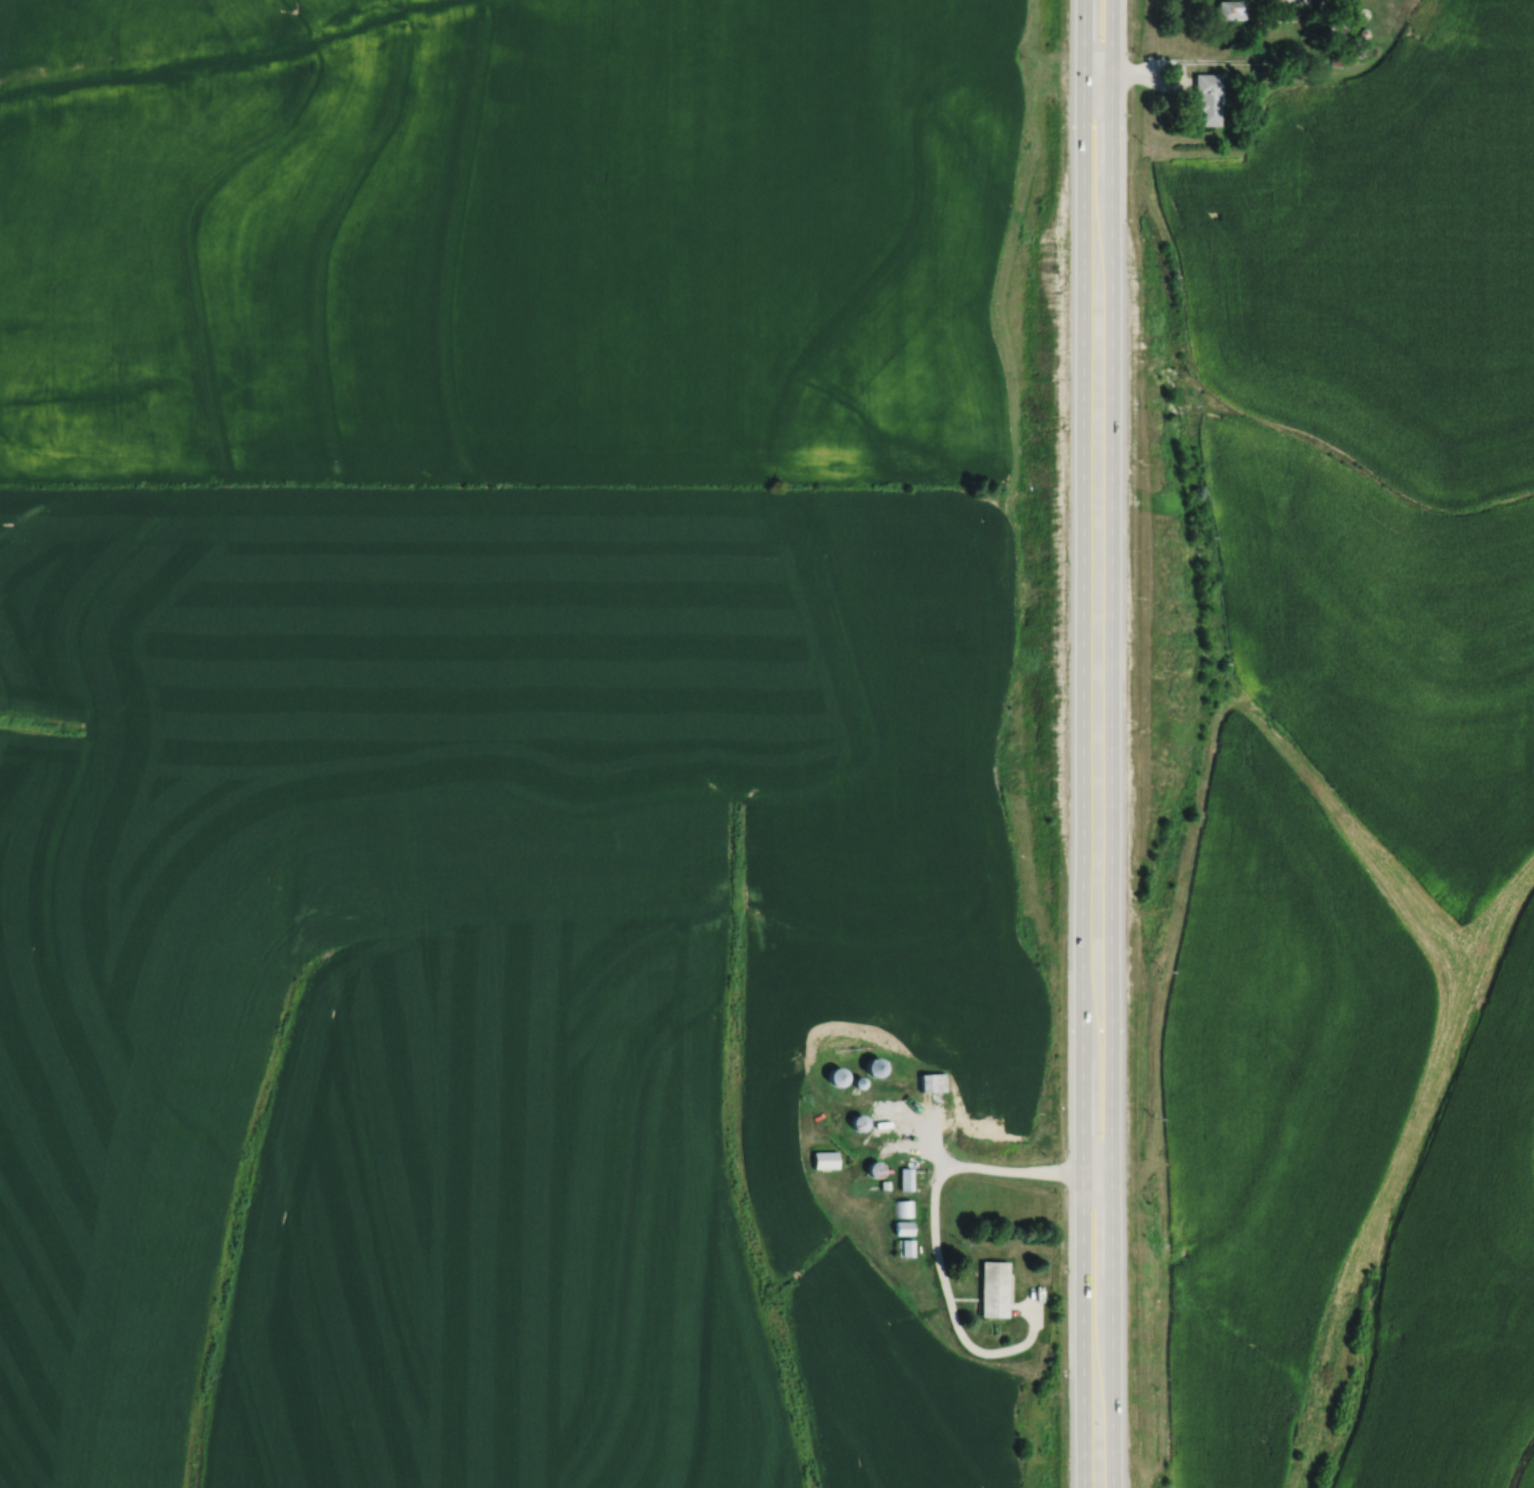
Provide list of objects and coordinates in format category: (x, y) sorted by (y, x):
building: (1229, 9)
building: (1335, 23)
building: (1362, 32)
road: (1217, 60)
building: (1320, 61)
building: (1335, 62)
building: (1252, 70)
road: (1167, 83)
building: (1205, 99)
road: (1080, 743)
road: (1107, 743)
building: (868, 1066)
building: (928, 1082)
building: (892, 1085)
road: (925, 1118)
building: (854, 1122)
building: (821, 1159)
road: (941, 1166)
building: (870, 1168)
road: (1029, 1173)
building: (902, 1178)
building: (900, 1208)
building: (900, 1228)
building: (903, 1248)
building: (990, 1289)
road: (949, 1313)

